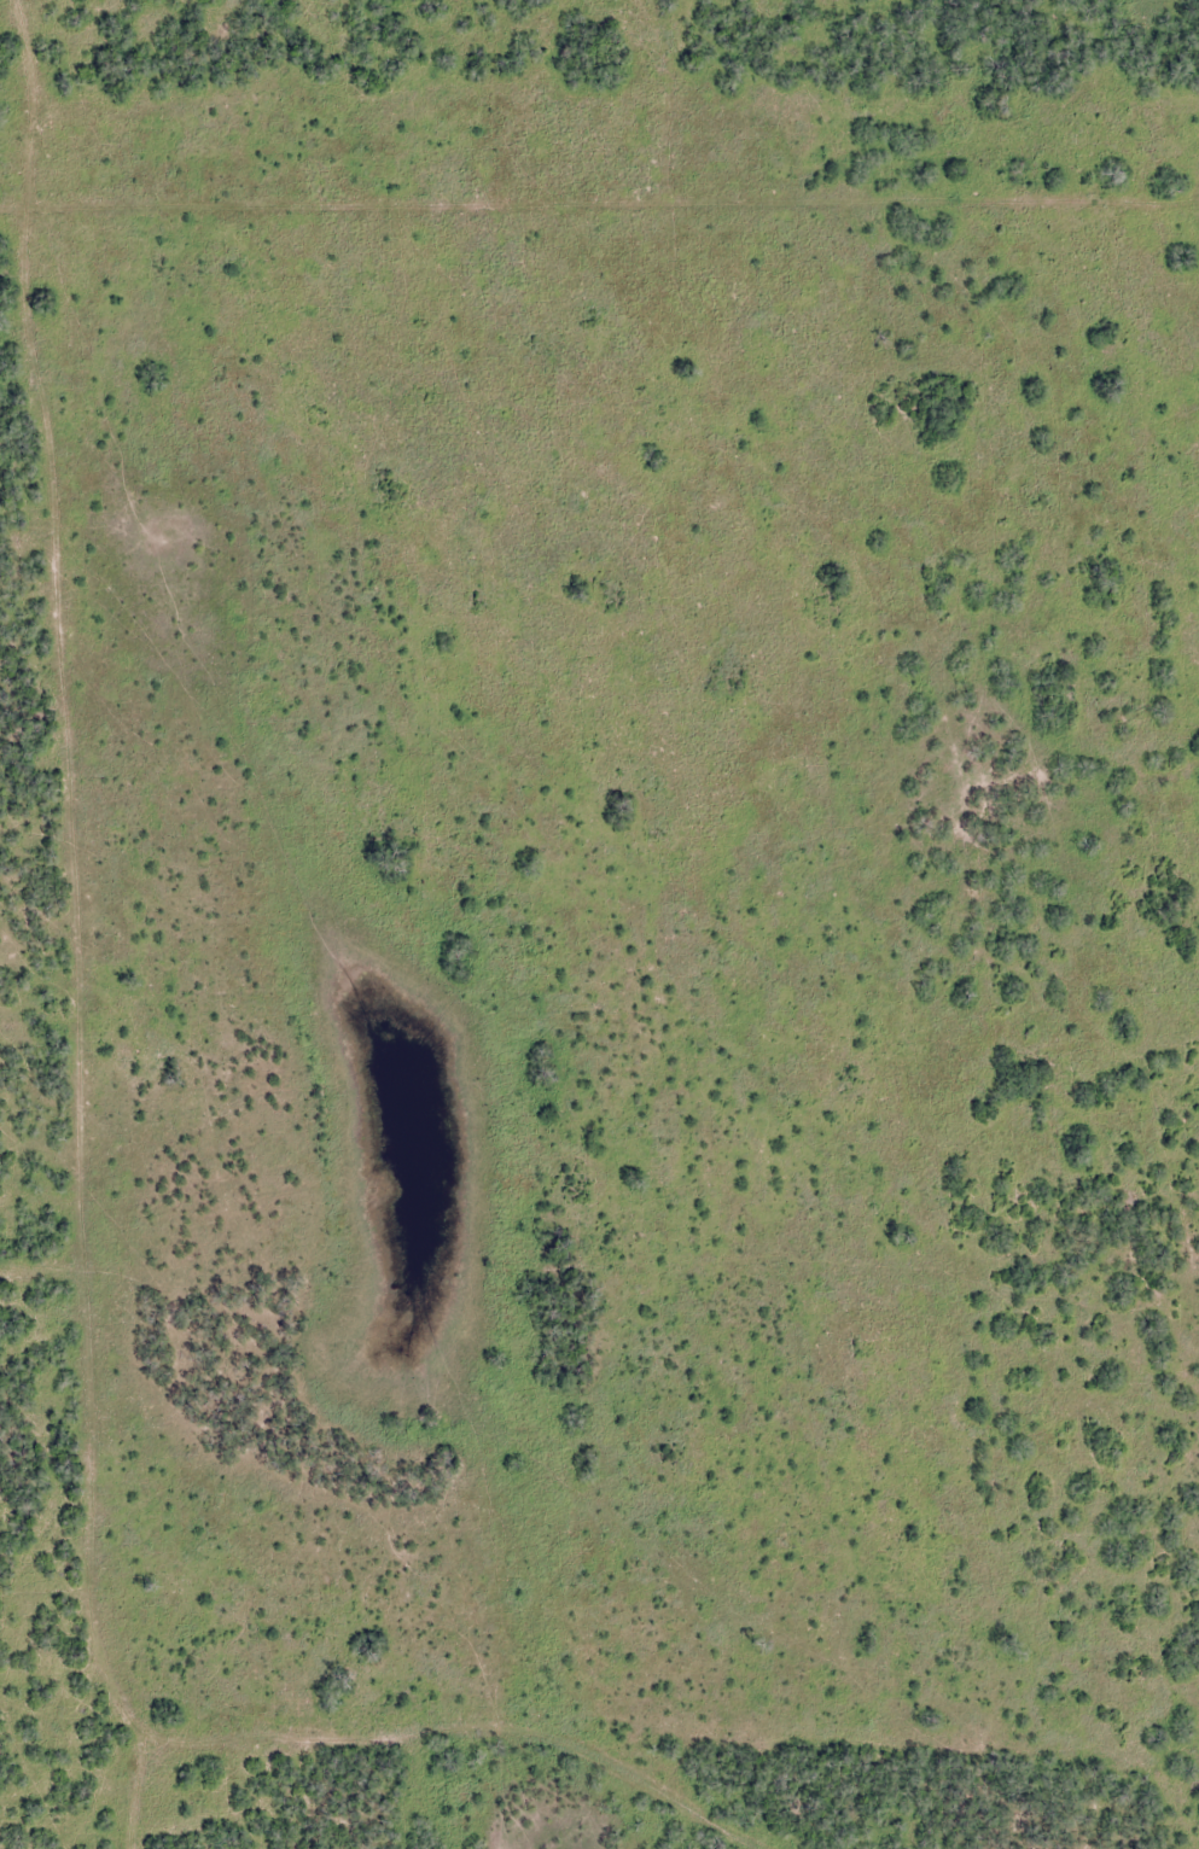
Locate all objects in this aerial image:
road: (1146, 1833)

